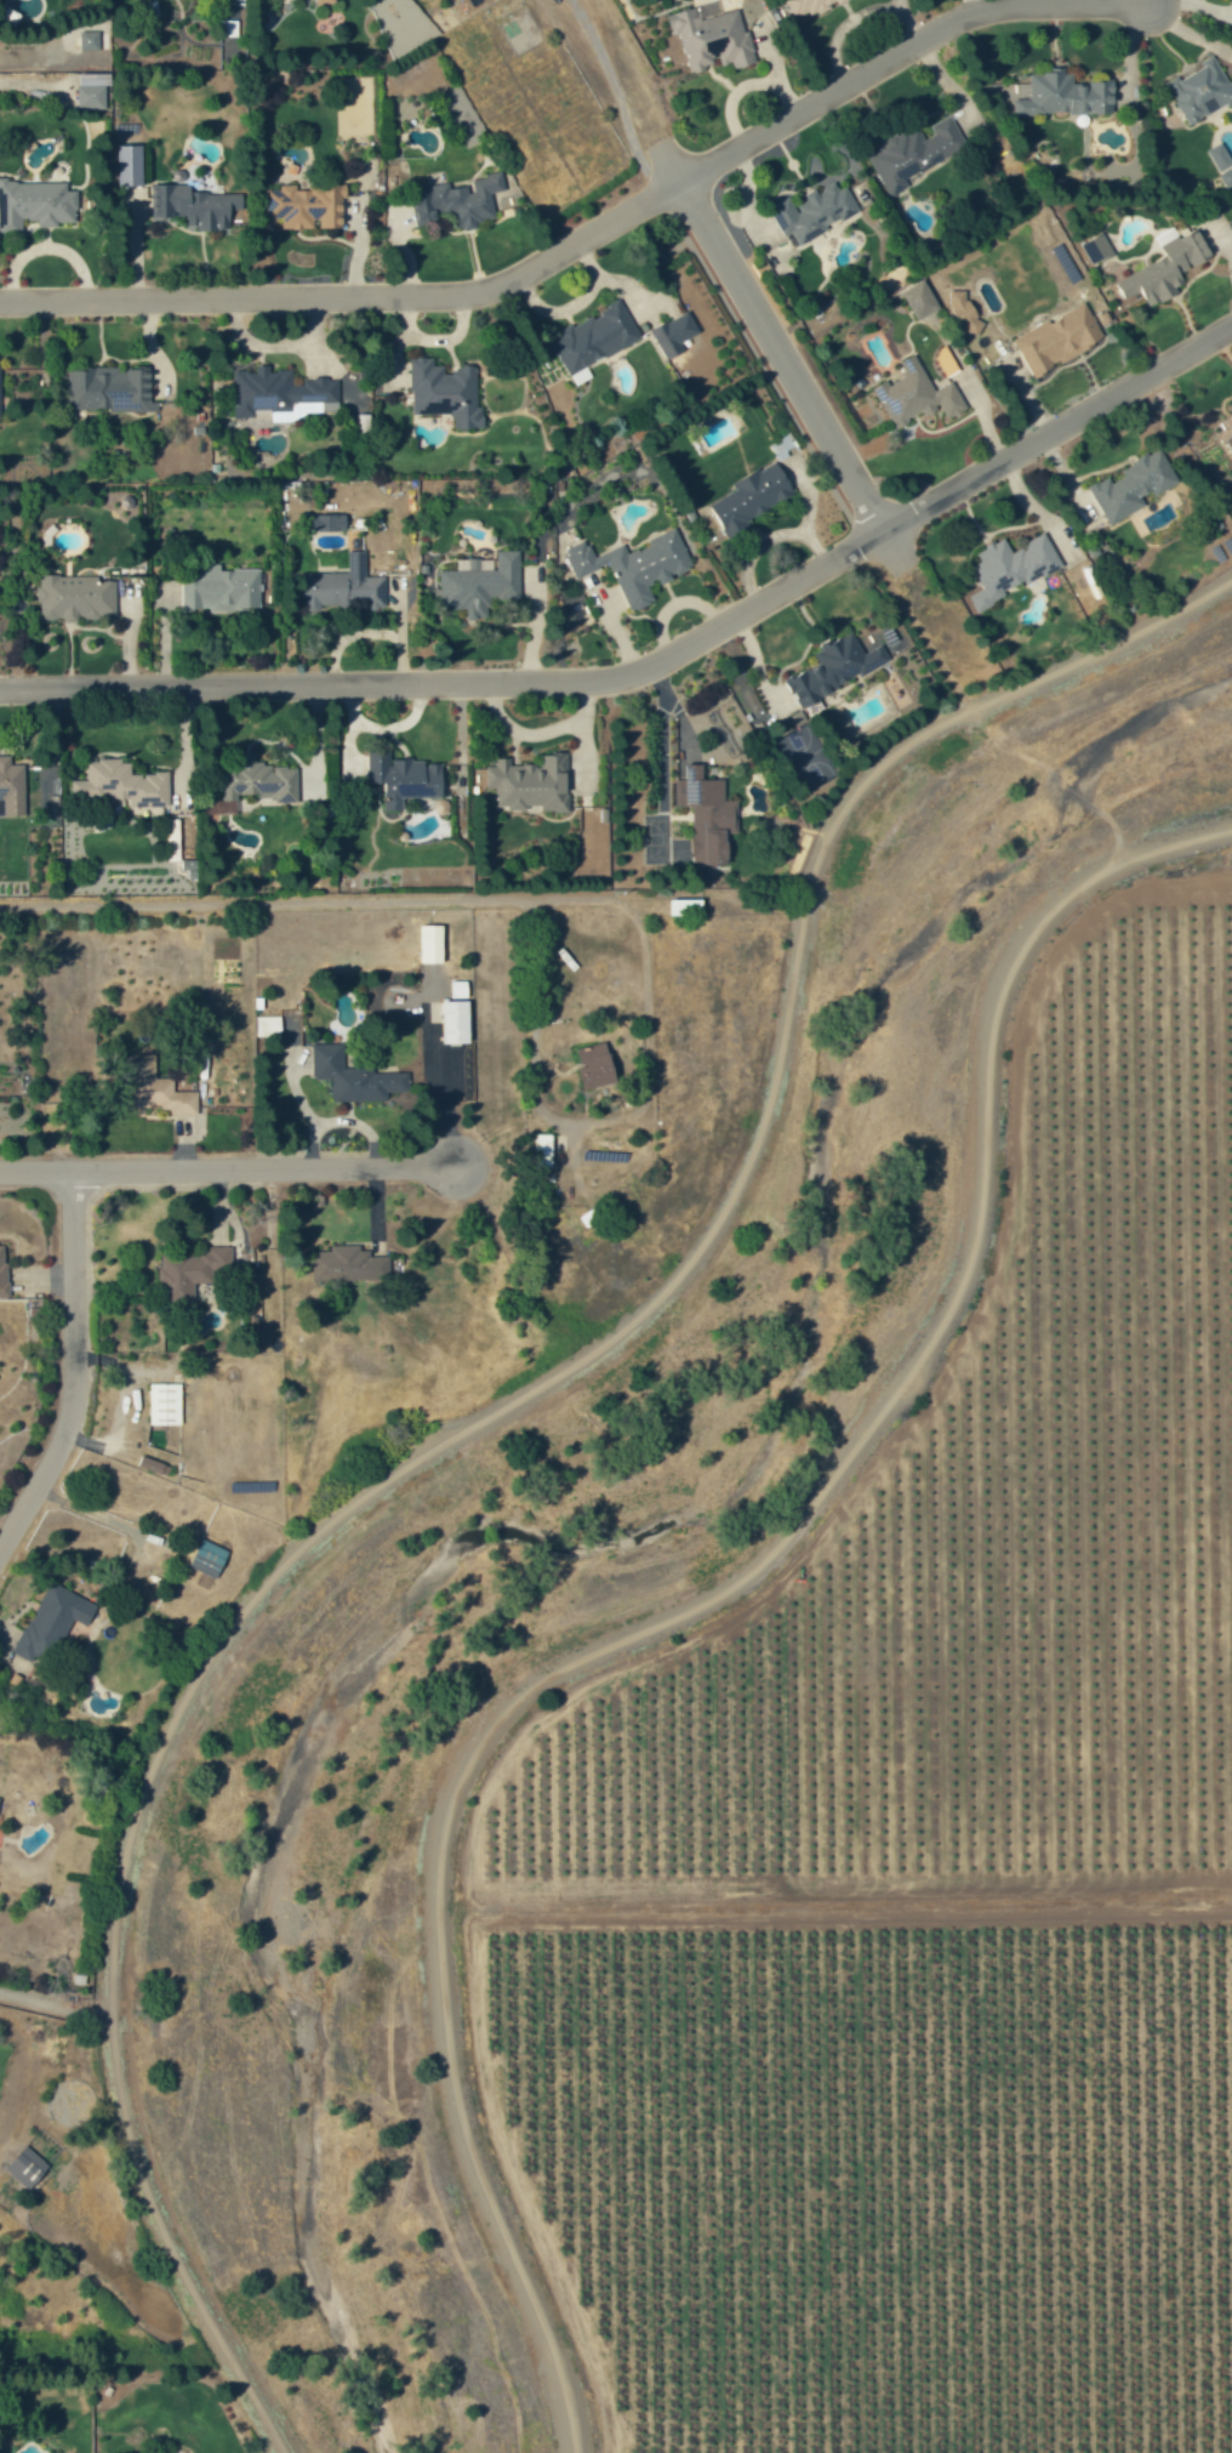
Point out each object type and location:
building: (325, 1)
building: (1227, 2)
building: (808, 5)
building: (707, 34)
building: (90, 40)
building: (92, 90)
building: (1197, 93)
building: (1059, 95)
building: (462, 114)
building: (909, 153)
building: (1219, 165)
building: (458, 200)
building: (34, 204)
building: (194, 206)
building: (307, 206)
building: (809, 207)
road: (595, 232)
building: (1091, 247)
building: (1159, 268)
road: (735, 275)
building: (913, 298)
building: (963, 309)
building: (669, 334)
building: (589, 337)
building: (1054, 337)
building: (109, 388)
building: (0, 389)
building: (446, 392)
building: (285, 394)
building: (911, 394)
road: (1061, 427)
building: (1128, 485)
building: (747, 495)
building: (327, 522)
building: (631, 564)
building: (1005, 567)
building: (480, 584)
building: (344, 586)
building: (221, 590)
building: (75, 597)
building: (835, 667)
road: (463, 688)
building: (709, 773)
building: (405, 779)
building: (262, 780)
building: (122, 784)
building: (531, 786)
building: (12, 787)
building: (701, 819)
road: (309, 900)
building: (678, 907)
building: (432, 944)
building: (456, 1021)
building: (268, 1026)
building: (591, 1065)
building: (354, 1077)
building: (153, 1087)
building: (451, 1114)
building: (537, 1151)
road: (228, 1171)
building: (349, 1264)
building: (4, 1270)
road: (70, 1379)
building: (165, 1404)
road: (468, 1423)
building: (153, 1465)
road: (702, 1599)
building: (52, 1622)
road: (53, 2000)
building: (27, 2167)
building: (142, 2452)

